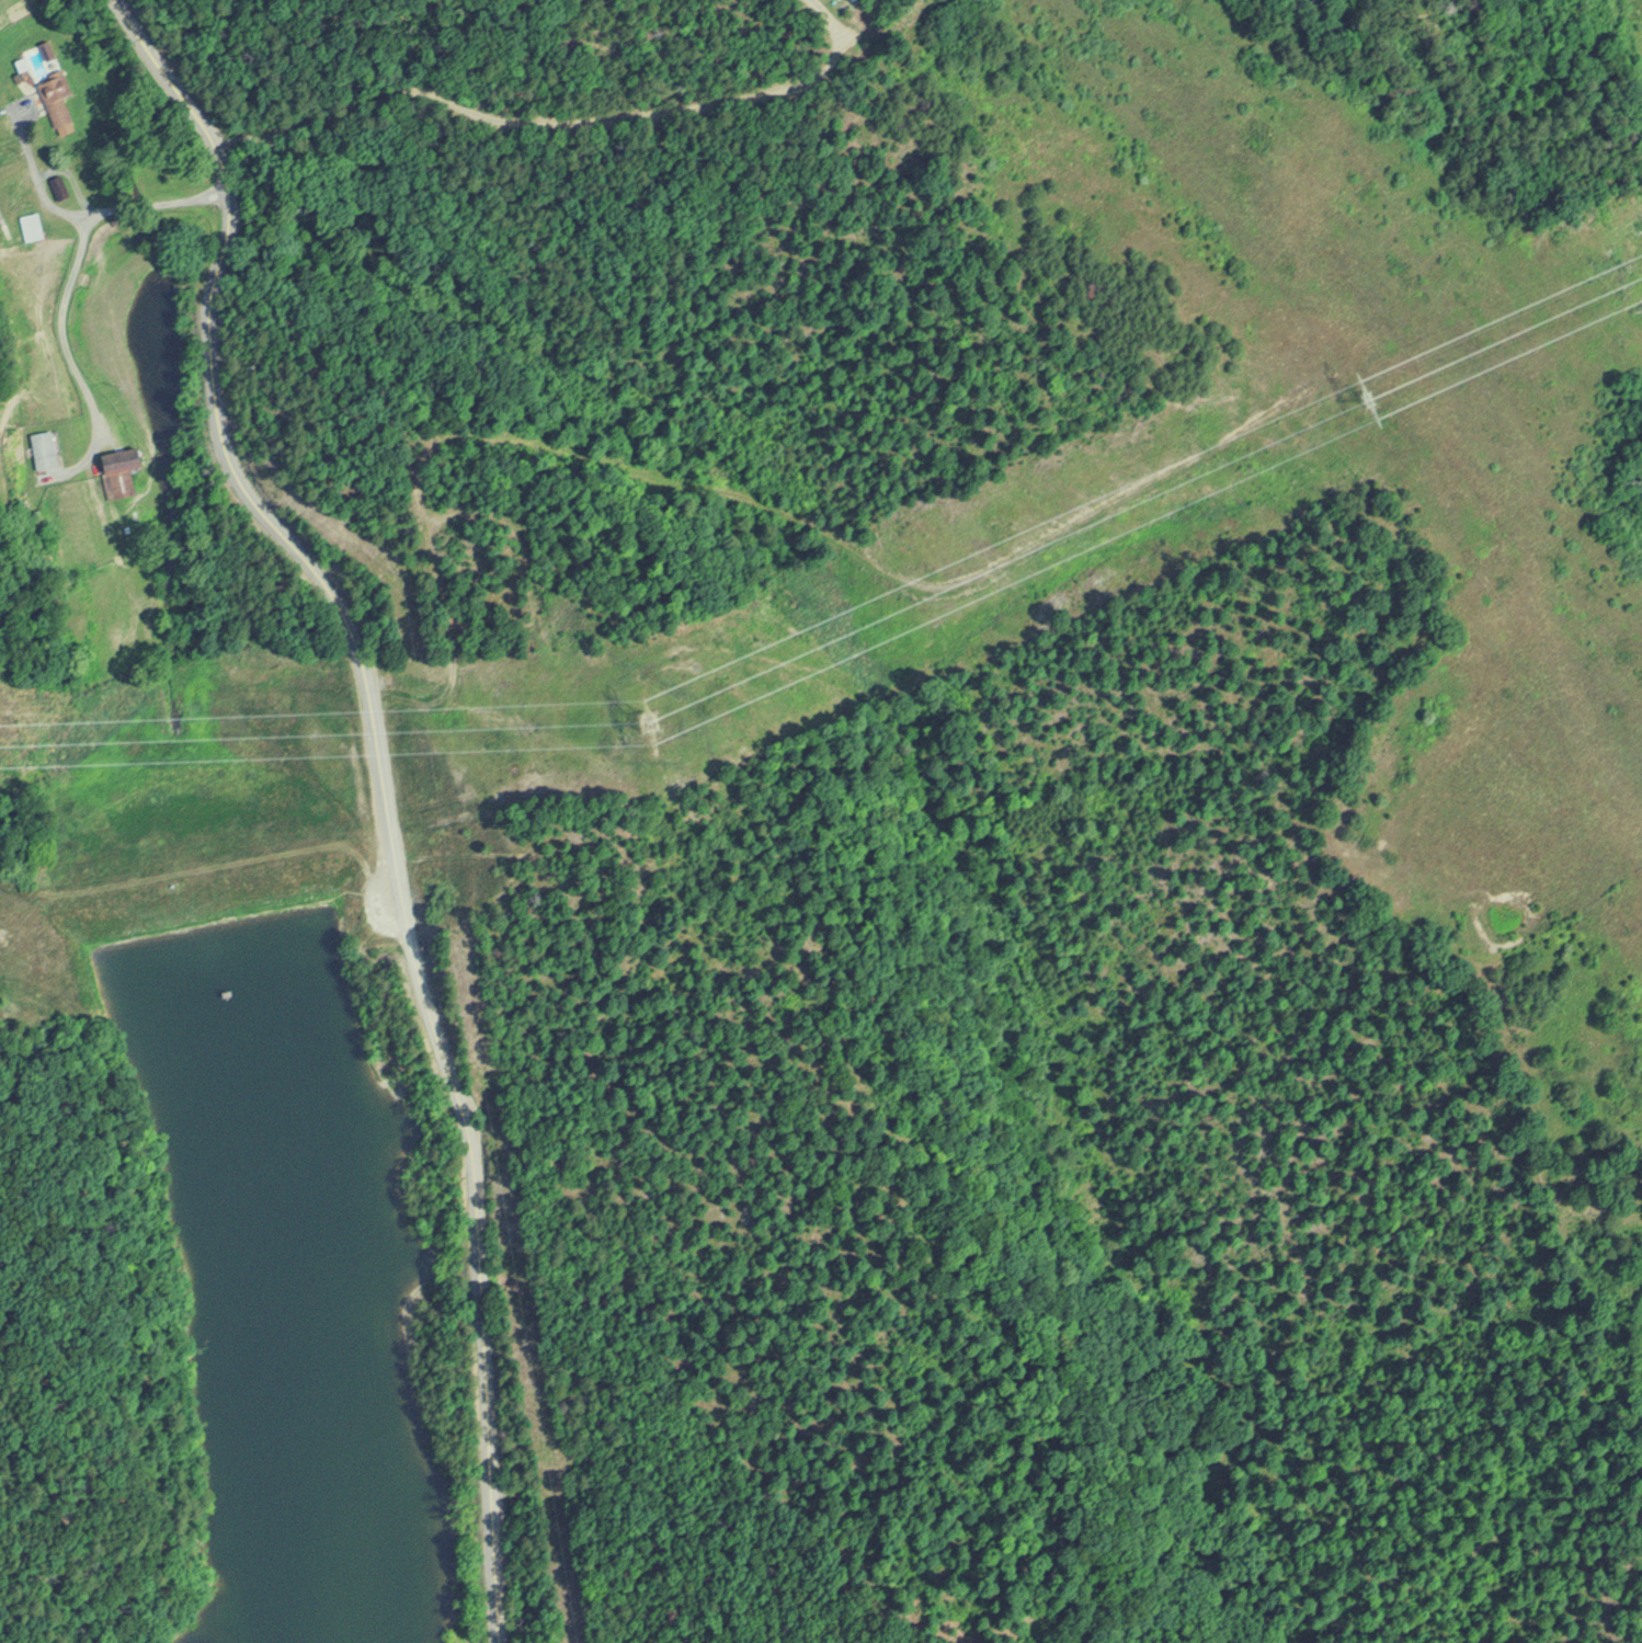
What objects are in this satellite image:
building: (58, 101)
road: (552, 116)
road: (91, 210)
building: (35, 225)
road: (67, 357)
power tower: (1367, 399)
building: (46, 447)
building: (122, 472)
power tower: (649, 719)
road: (381, 786)
park: (217, 1138)
park: (551, 1286)

